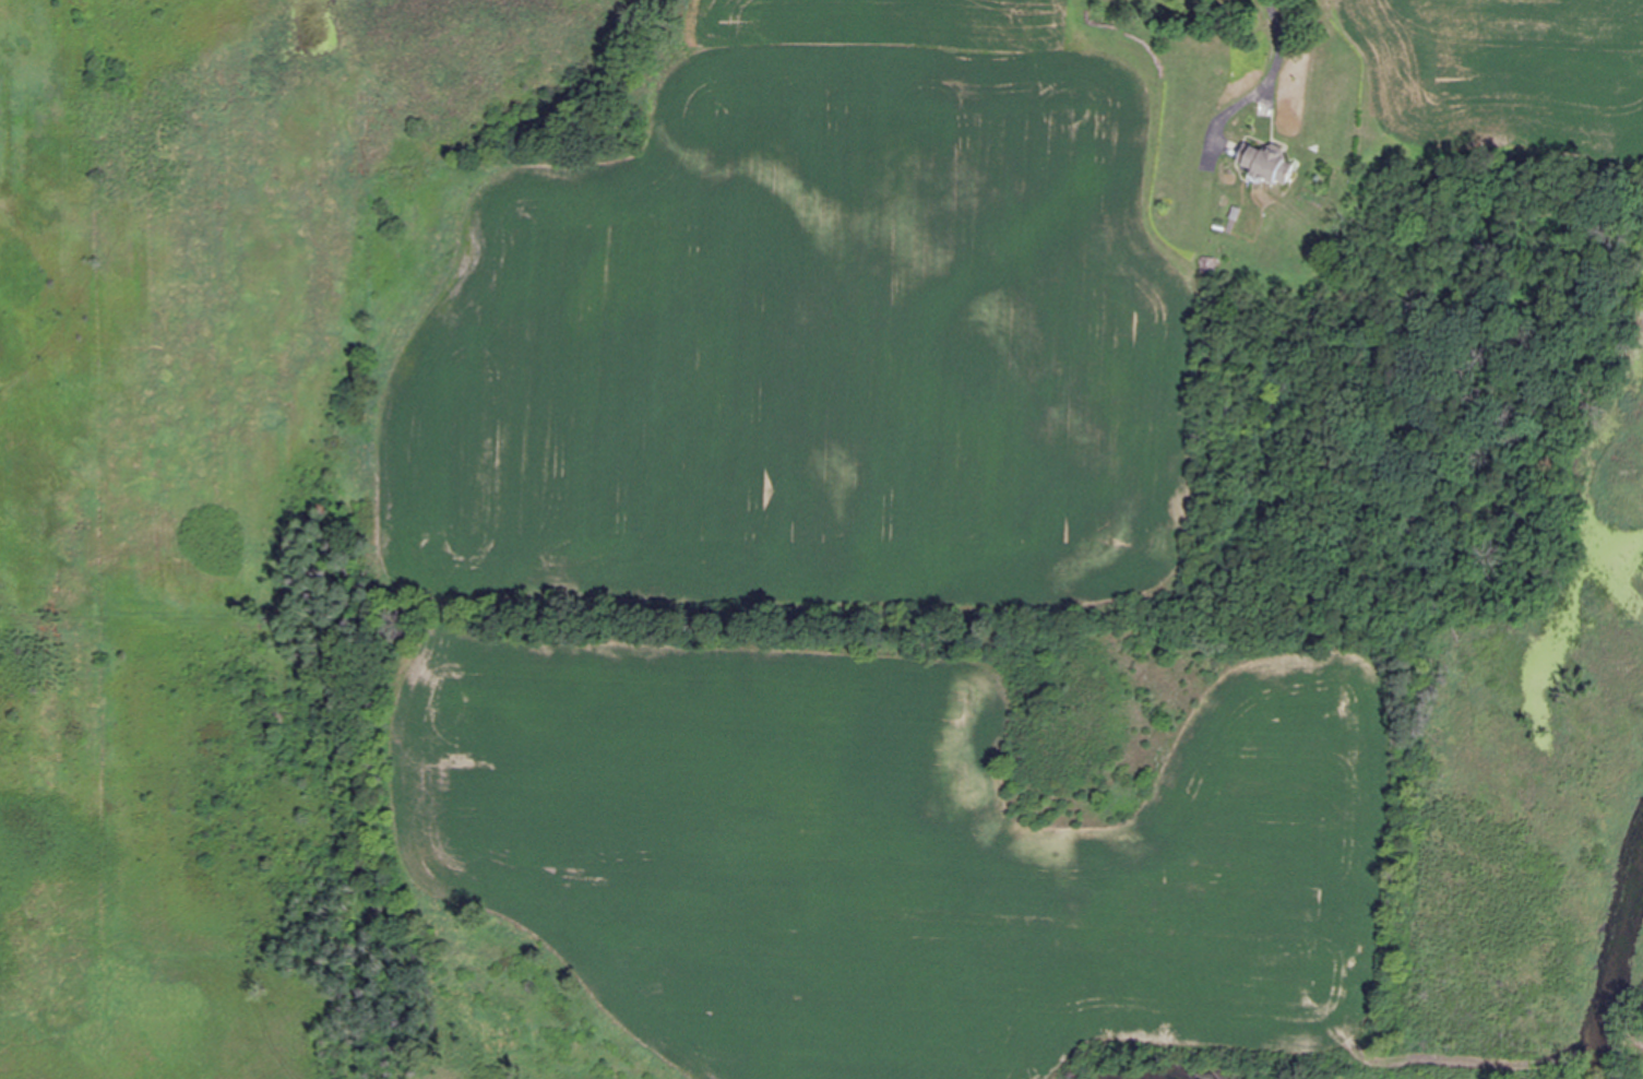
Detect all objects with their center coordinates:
road: (1267, 90)
building: (1271, 165)
river: (1618, 977)

